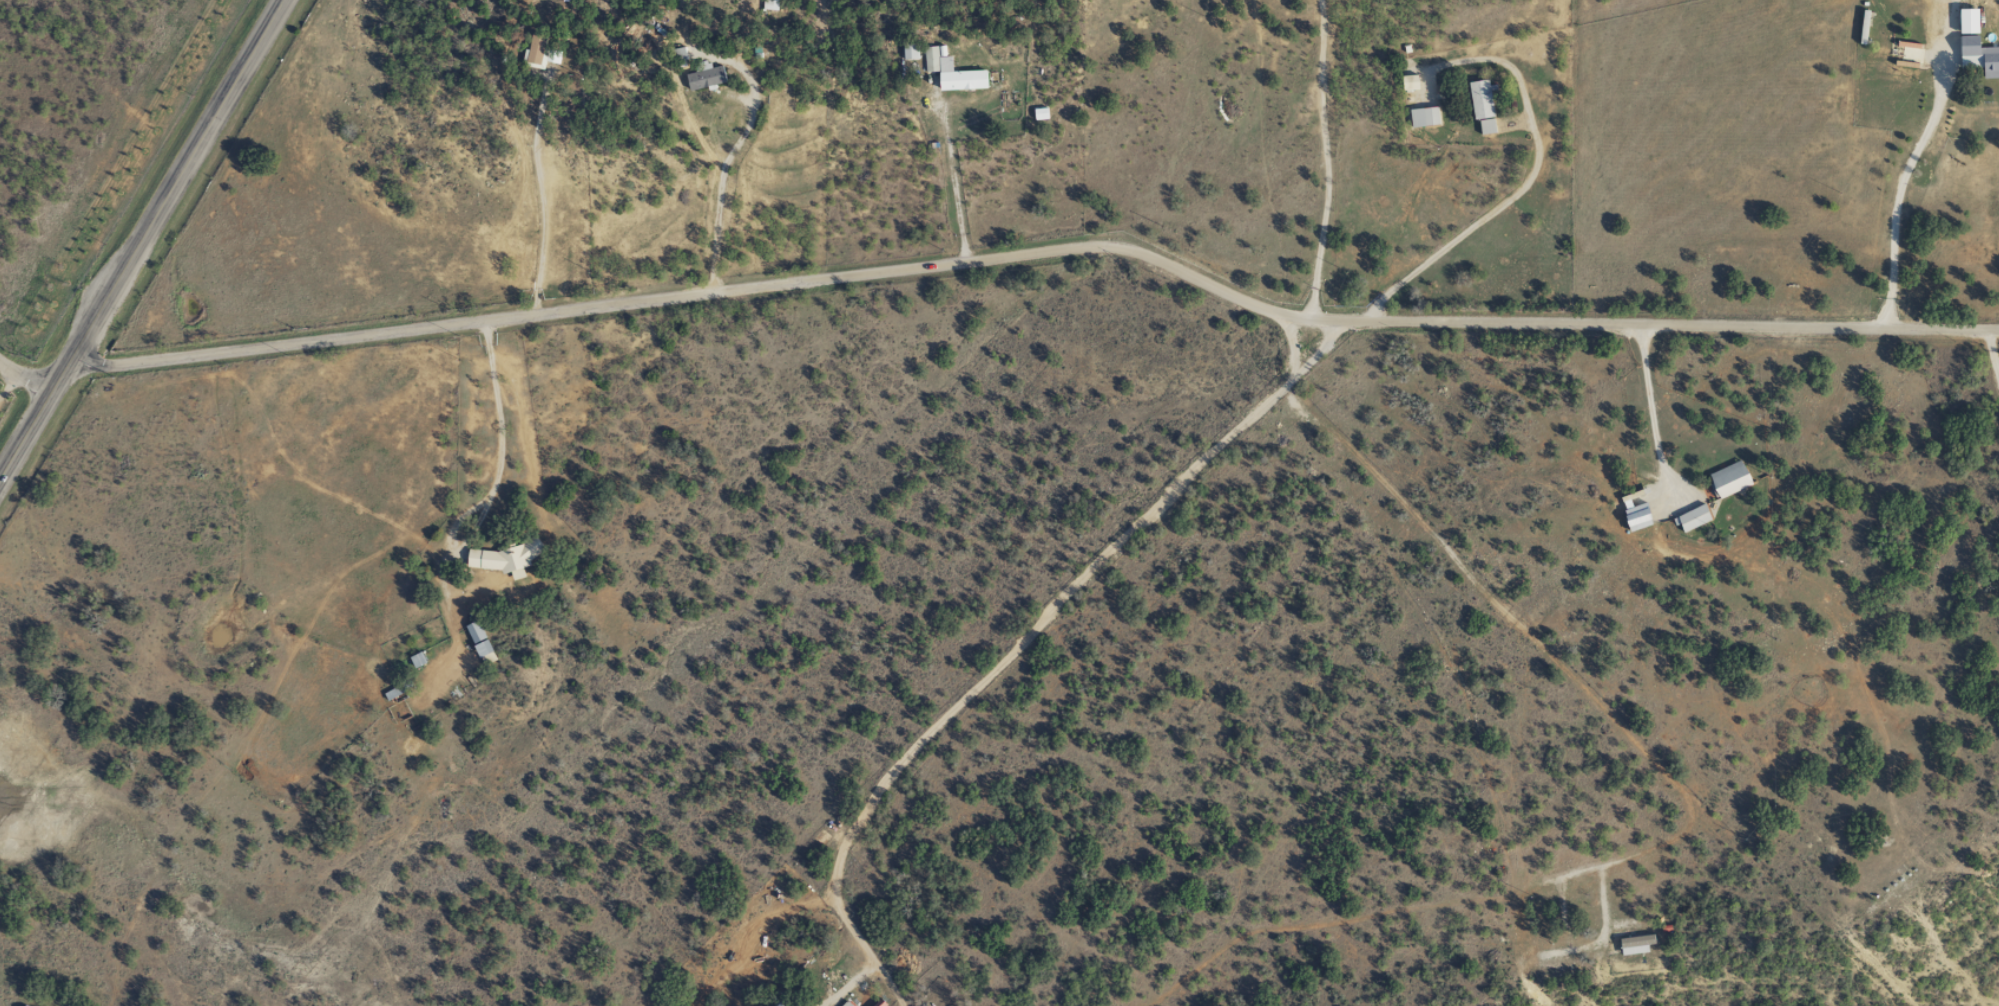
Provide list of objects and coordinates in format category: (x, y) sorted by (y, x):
building: (1964, 32)
building: (534, 50)
building: (1988, 62)
building: (1887, 66)
building: (950, 73)
building: (703, 78)
building: (1479, 106)
building: (1421, 117)
road: (137, 229)
road: (1022, 281)
road: (23, 362)
building: (1726, 479)
building: (1634, 516)
building: (1690, 518)
building: (503, 555)
road: (1015, 635)
building: (477, 641)
road: (1883, 655)
building: (392, 692)
building: (1632, 944)
building: (845, 1003)
building: (775, 1004)

